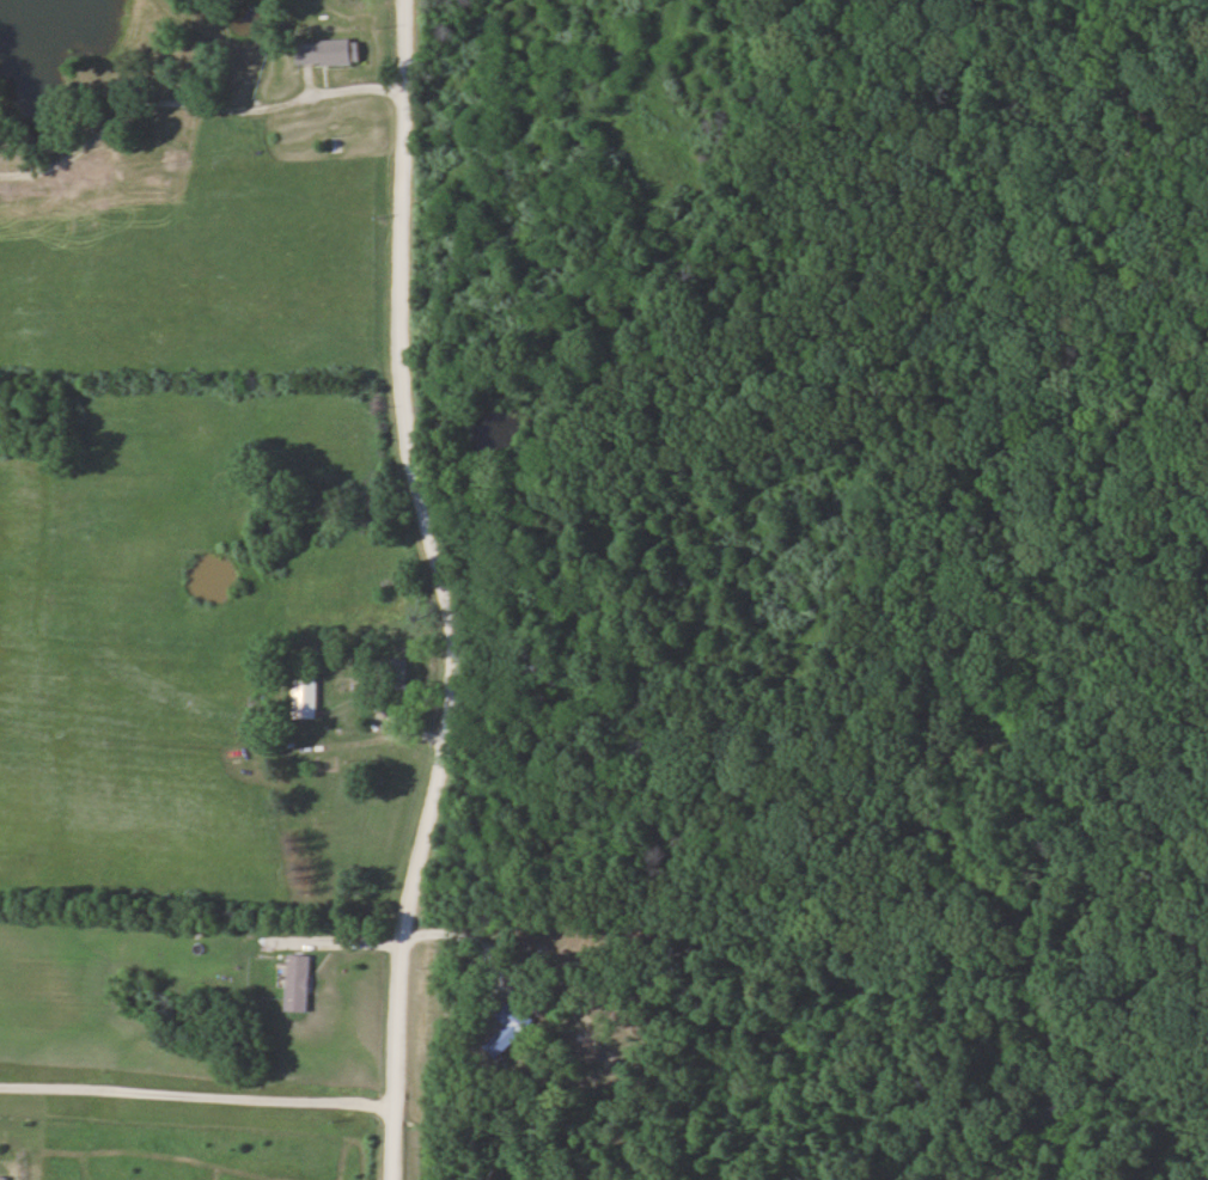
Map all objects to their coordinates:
building: (338, 50)
road: (426, 591)
building: (393, 670)
building: (304, 698)
building: (299, 980)
building: (508, 1026)
road: (195, 1090)

